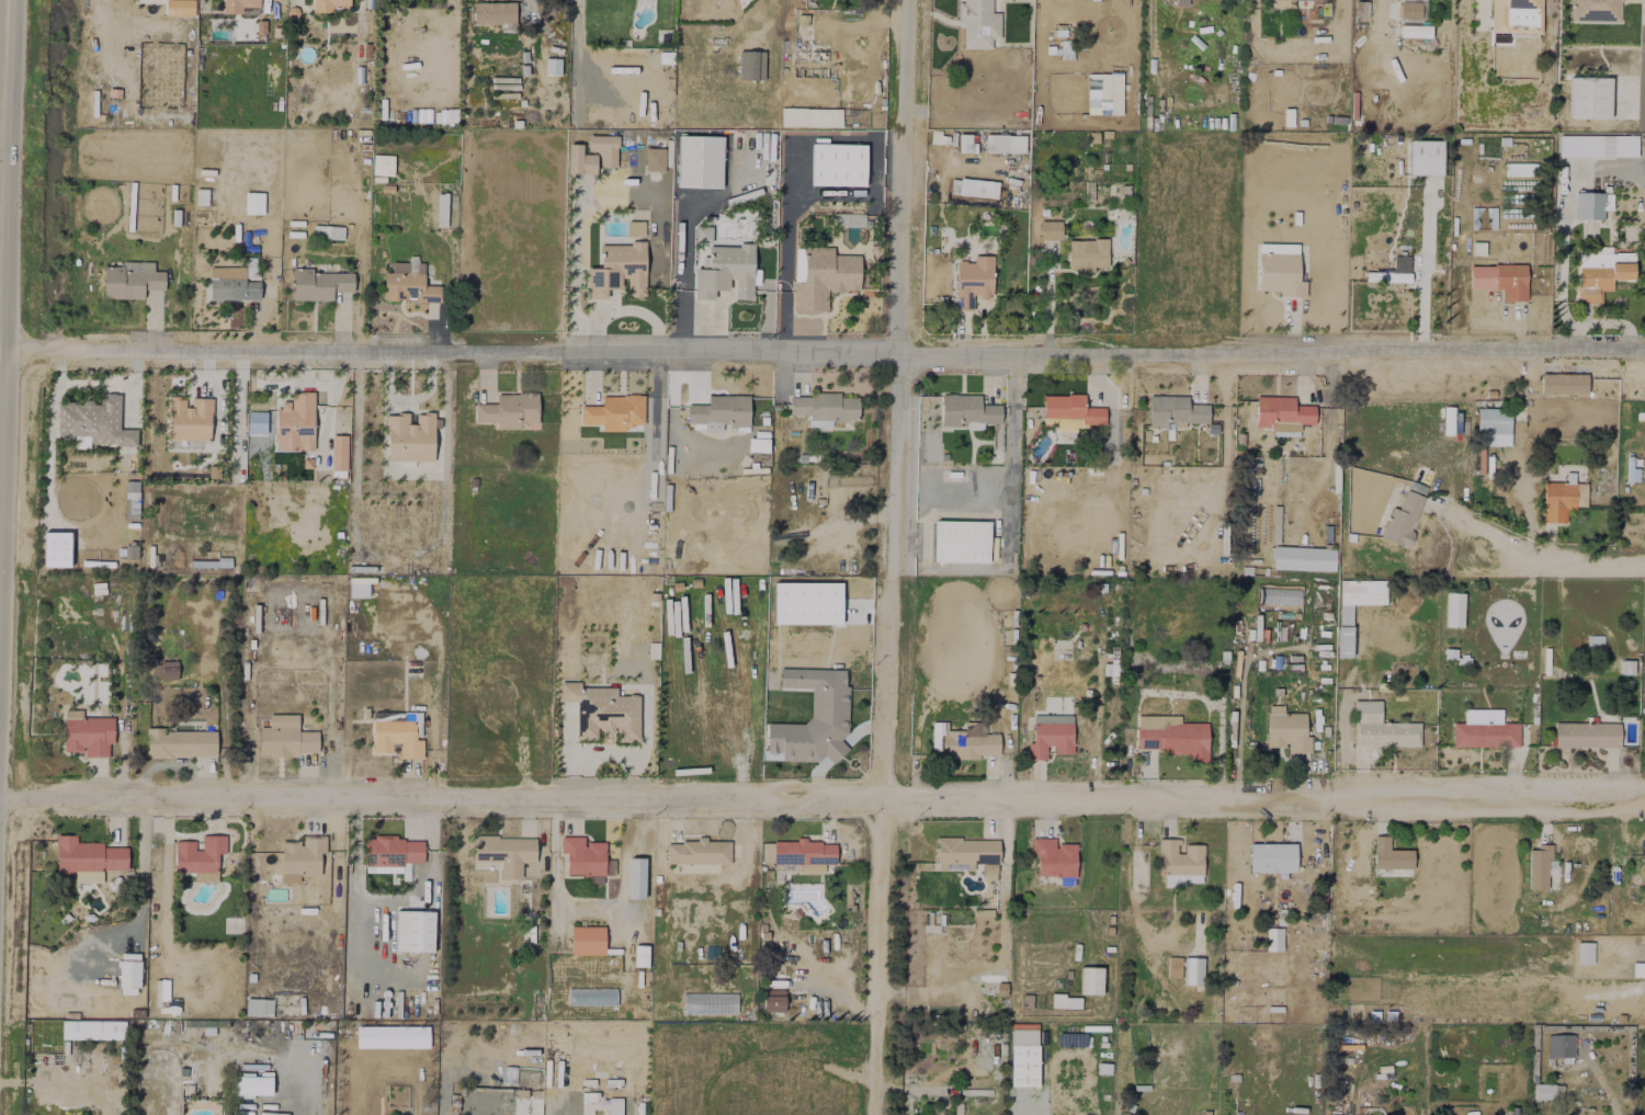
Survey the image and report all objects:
building: (1181, 2)
building: (1280, 3)
building: (329, 4)
building: (240, 7)
building: (179, 8)
building: (1596, 10)
building: (493, 12)
building: (1516, 16)
building: (1413, 19)
building: (750, 65)
building: (552, 66)
building: (1589, 98)
building: (824, 117)
building: (1003, 143)
building: (1597, 146)
building: (603, 148)
building: (1425, 157)
building: (654, 159)
building: (579, 160)
building: (699, 161)
building: (838, 164)
building: (977, 187)
building: (1591, 205)
building: (1050, 229)
building: (1086, 254)
building: (617, 270)
building: (726, 271)
building: (833, 271)
building: (1392, 272)
building: (1601, 273)
building: (1280, 274)
building: (131, 280)
building: (973, 280)
building: (1500, 280)
building: (408, 283)
building: (319, 284)
building: (234, 288)
road: (828, 356)
building: (1563, 383)
building: (825, 408)
road: (10, 409)
building: (1070, 409)
building: (509, 410)
building: (719, 410)
building: (967, 410)
building: (1175, 411)
building: (614, 412)
building: (1282, 414)
building: (189, 419)
building: (93, 421)
building: (295, 422)
building: (1493, 426)
building: (409, 437)
building: (339, 452)
building: (1561, 500)
building: (1404, 515)
building: (961, 541)
road: (888, 557)
building: (1303, 558)
road: (1562, 565)
building: (807, 603)
building: (1453, 610)
building: (1343, 630)
building: (1626, 667)
building: (602, 710)
building: (813, 718)
building: (1381, 728)
building: (1286, 730)
building: (1485, 730)
building: (87, 733)
building: (396, 735)
building: (1050, 735)
building: (1586, 735)
building: (1171, 736)
building: (285, 737)
building: (181, 742)
building: (971, 742)
road: (822, 798)
building: (393, 851)
building: (504, 852)
building: (697, 852)
building: (804, 852)
building: (965, 853)
building: (198, 854)
building: (582, 855)
building: (1389, 855)
building: (302, 857)
building: (1054, 857)
building: (87, 858)
building: (1541, 866)
building: (635, 877)
building: (413, 931)
building: (1273, 938)
building: (587, 940)
building: (1584, 953)
building: (129, 956)
building: (1173, 967)
building: (1193, 970)
building: (128, 977)
building: (1090, 980)
building: (773, 1000)
building: (258, 1006)
building: (92, 1029)
building: (375, 1036)
building: (1561, 1045)
building: (1024, 1066)
road: (66, 1082)
building: (252, 1084)
building: (1543, 1091)
building: (1330, 1114)

